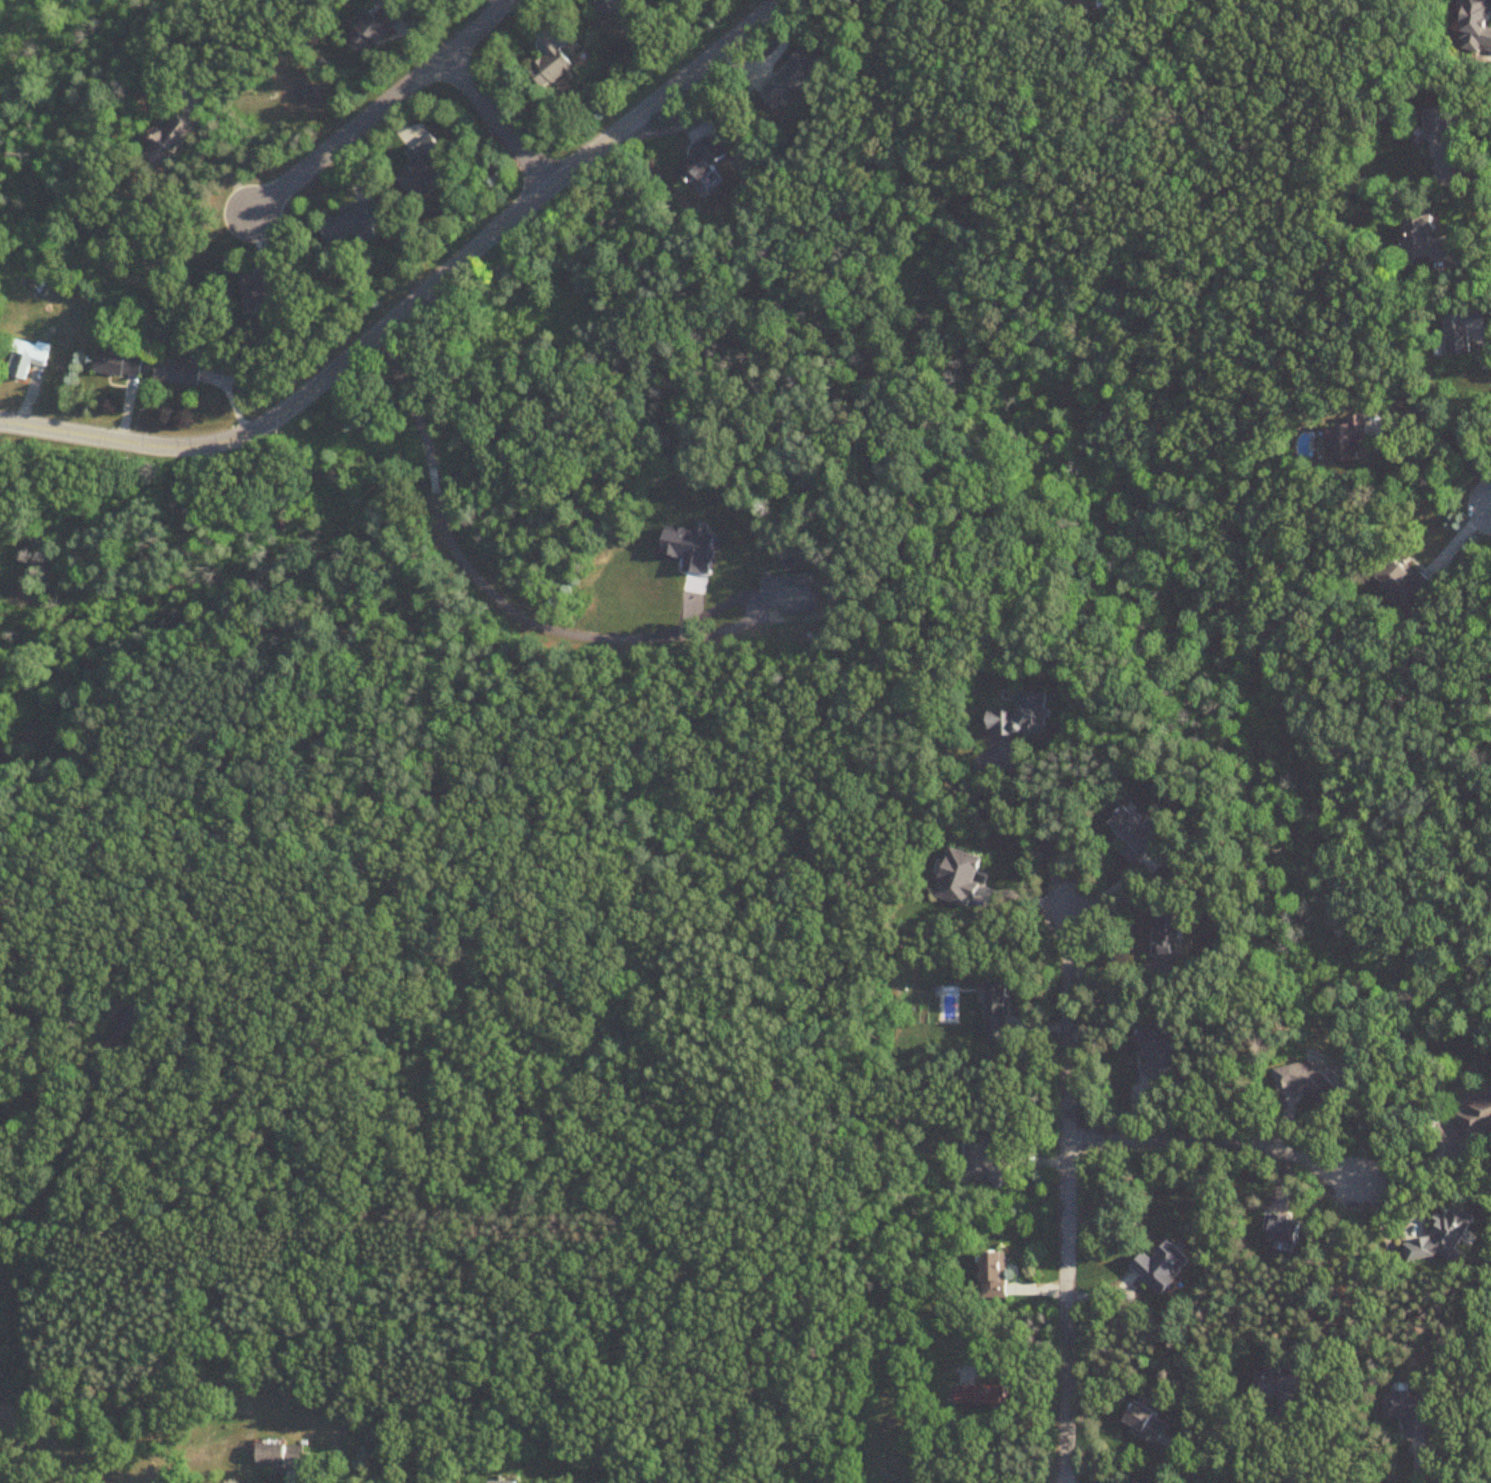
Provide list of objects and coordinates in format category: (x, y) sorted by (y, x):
building: (609, 6)
building: (1477, 26)
building: (373, 28)
building: (552, 63)
road: (379, 111)
road: (497, 122)
building: (1445, 131)
building: (171, 141)
building: (705, 159)
road: (225, 160)
building: (421, 167)
road: (1463, 175)
building: (351, 224)
building: (1428, 242)
road: (1470, 246)
building: (258, 292)
road: (413, 297)
building: (1462, 331)
building: (118, 364)
building: (20, 365)
building: (176, 373)
road: (407, 392)
road: (1447, 433)
building: (1349, 440)
road: (433, 481)
building: (1403, 583)
building: (792, 594)
road: (531, 621)
building: (1022, 717)
road: (1047, 821)
building: (1136, 833)
building: (960, 877)
building: (1171, 931)
building: (998, 1014)
building: (131, 1025)
building: (1156, 1053)
building: (1307, 1081)
building: (1476, 1115)
road: (1216, 1140)
road: (1422, 1163)
road: (1068, 1195)
building: (1445, 1236)
building: (1163, 1267)
building: (996, 1274)
building: (1279, 1389)
building: (983, 1395)
building: (1409, 1410)
building: (1147, 1423)
building: (284, 1458)
building: (507, 1482)

